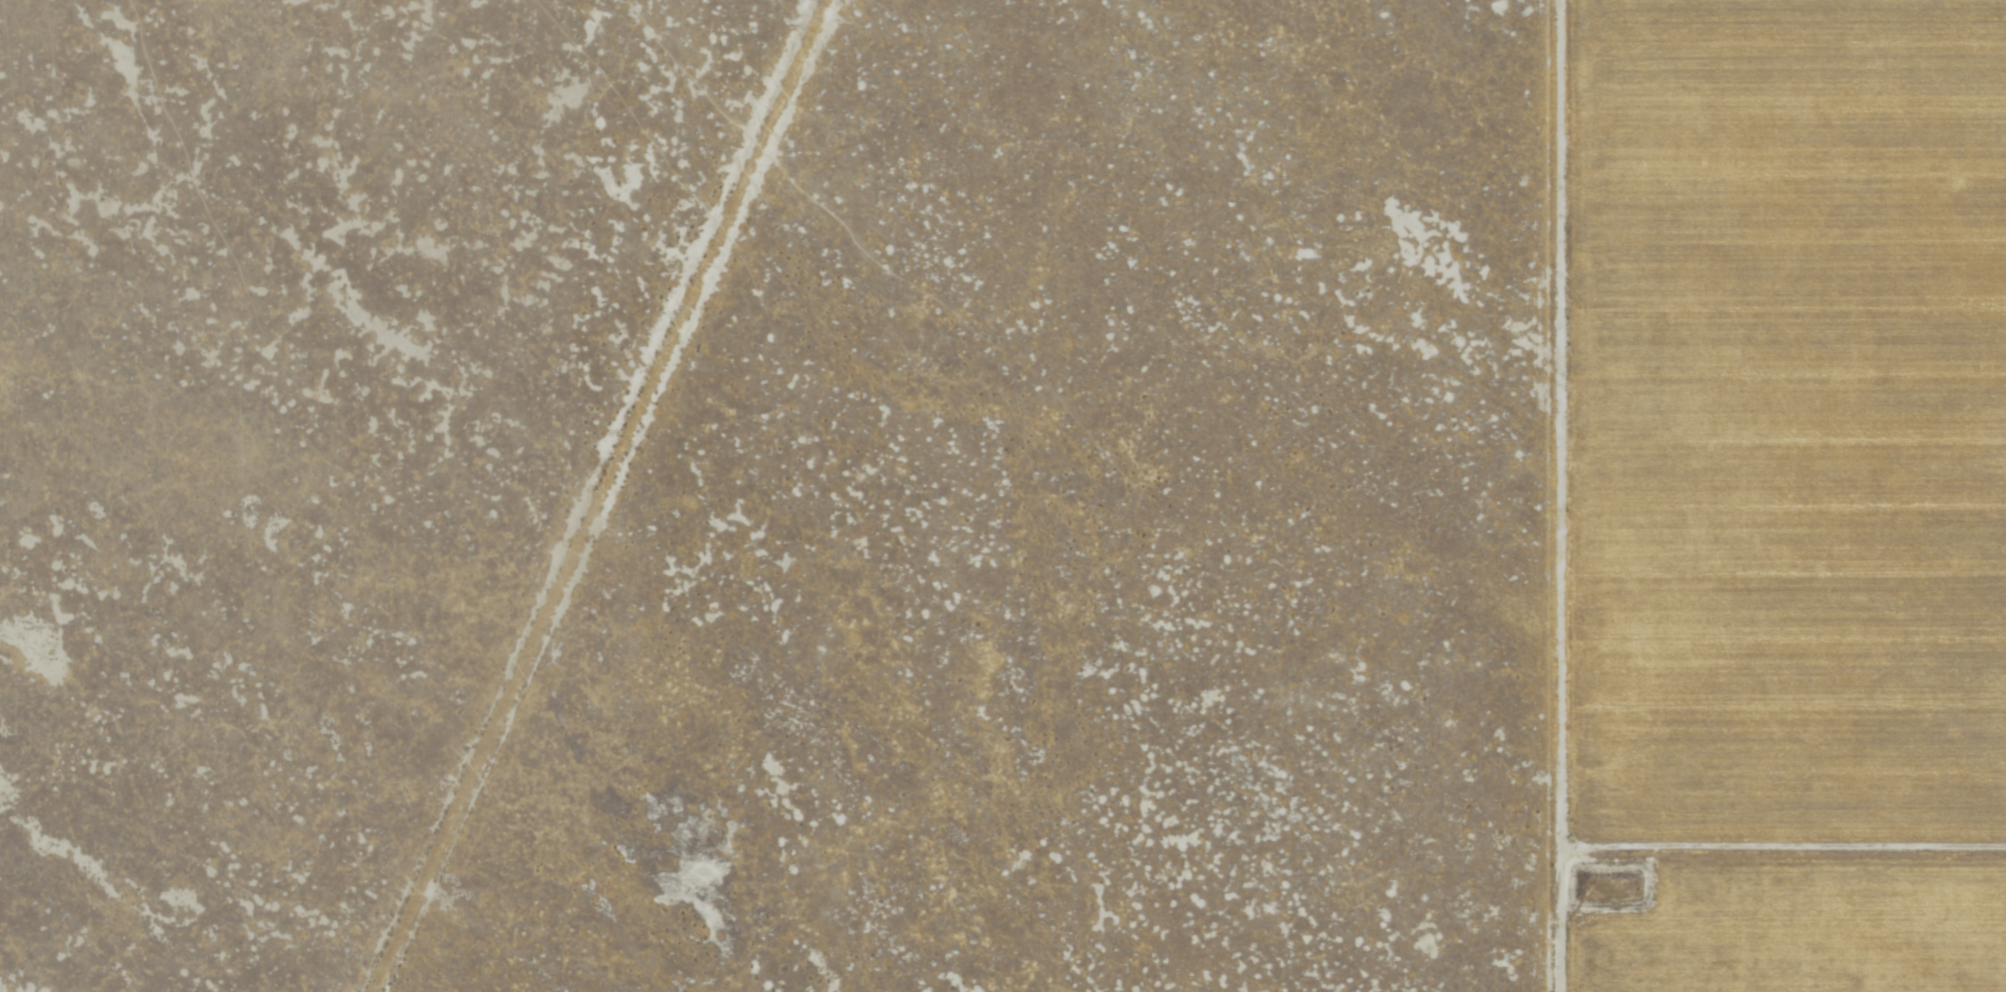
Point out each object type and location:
crop: (1786, 422)
road: (1556, 495)
road: (1781, 850)
crop: (1804, 927)

